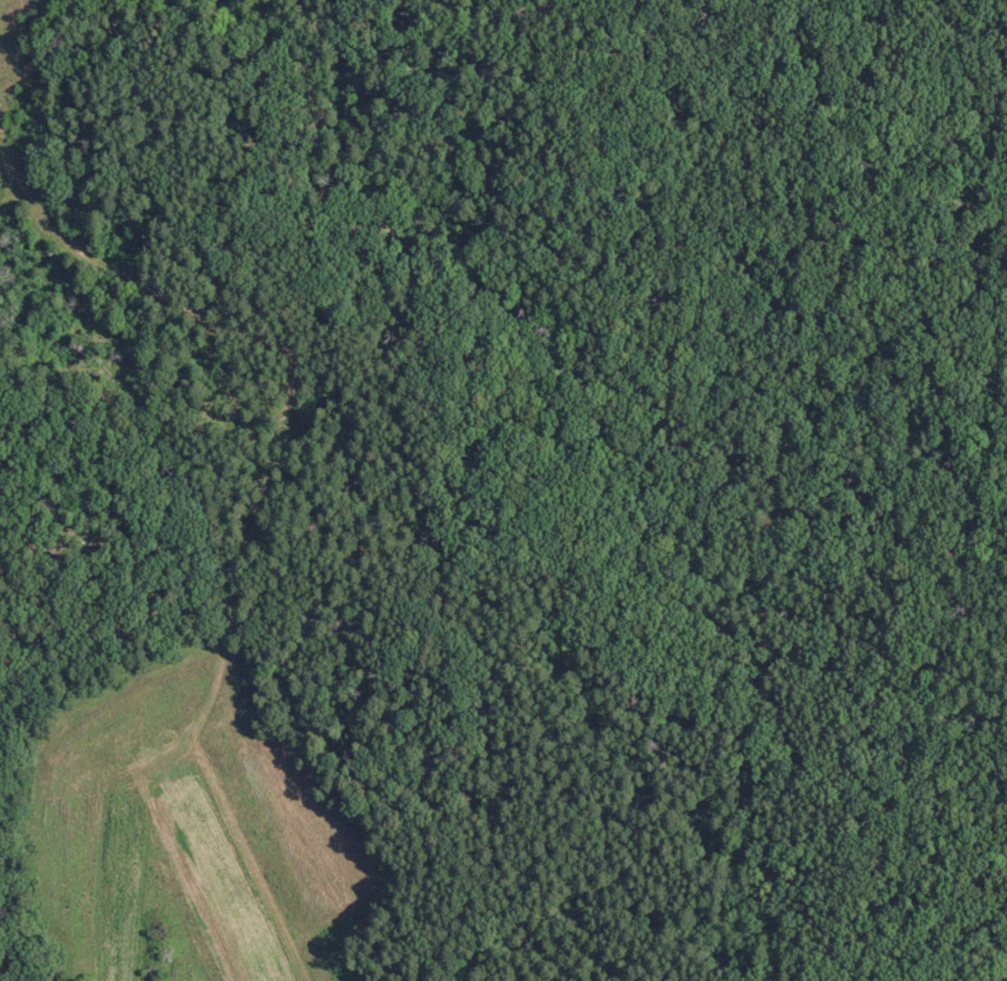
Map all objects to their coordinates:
road: (501, 14)

